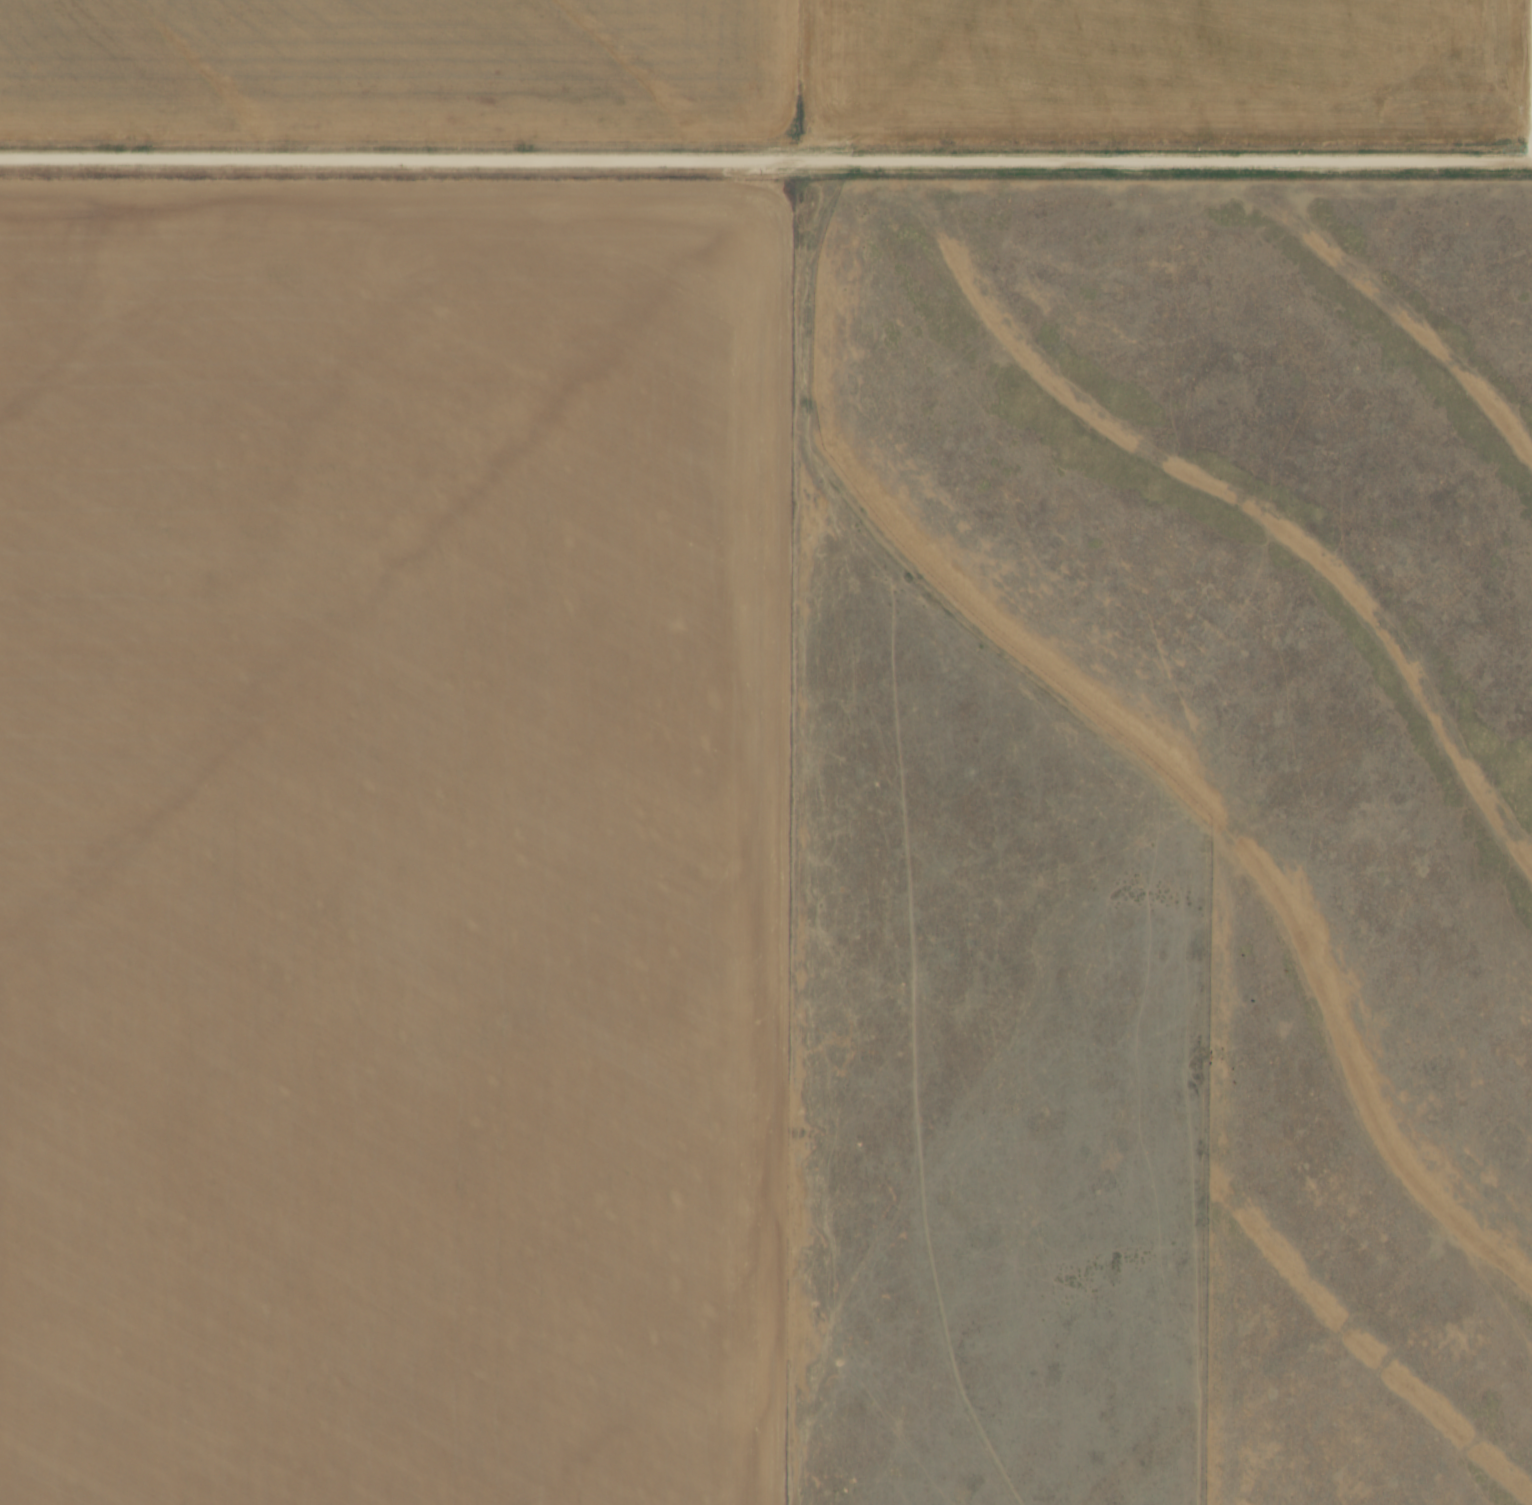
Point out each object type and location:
road: (766, 147)

